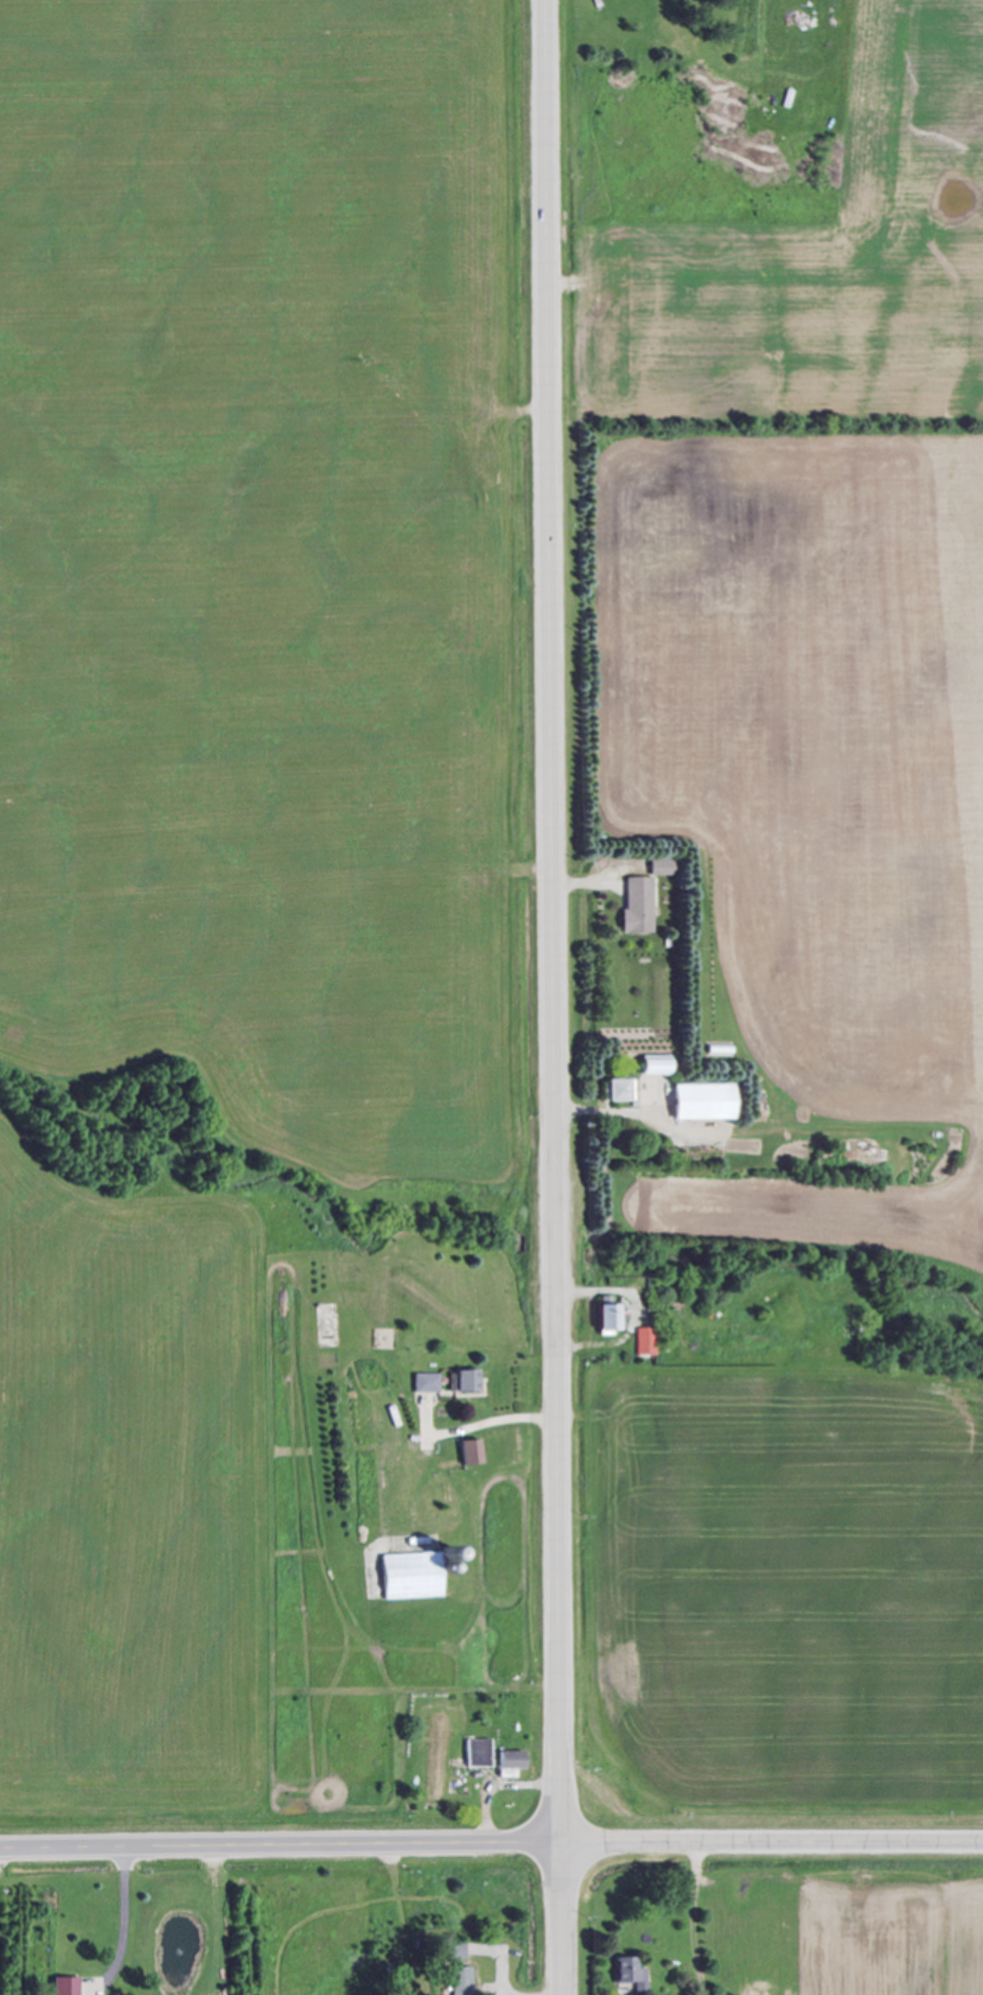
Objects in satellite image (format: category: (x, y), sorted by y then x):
building: (655, 868)
road: (581, 884)
building: (632, 907)
road: (552, 997)
building: (651, 1066)
building: (616, 1091)
building: (695, 1103)
road: (606, 1111)
road: (634, 1314)
building: (640, 1342)
building: (458, 1382)
building: (421, 1384)
road: (497, 1420)
building: (466, 1452)
building: (413, 1574)
building: (472, 1757)
building: (505, 1765)
road: (491, 1839)
road: (693, 1918)
road: (124, 1919)
building: (634, 1973)
building: (464, 1981)
building: (69, 1986)
road: (512, 1993)

